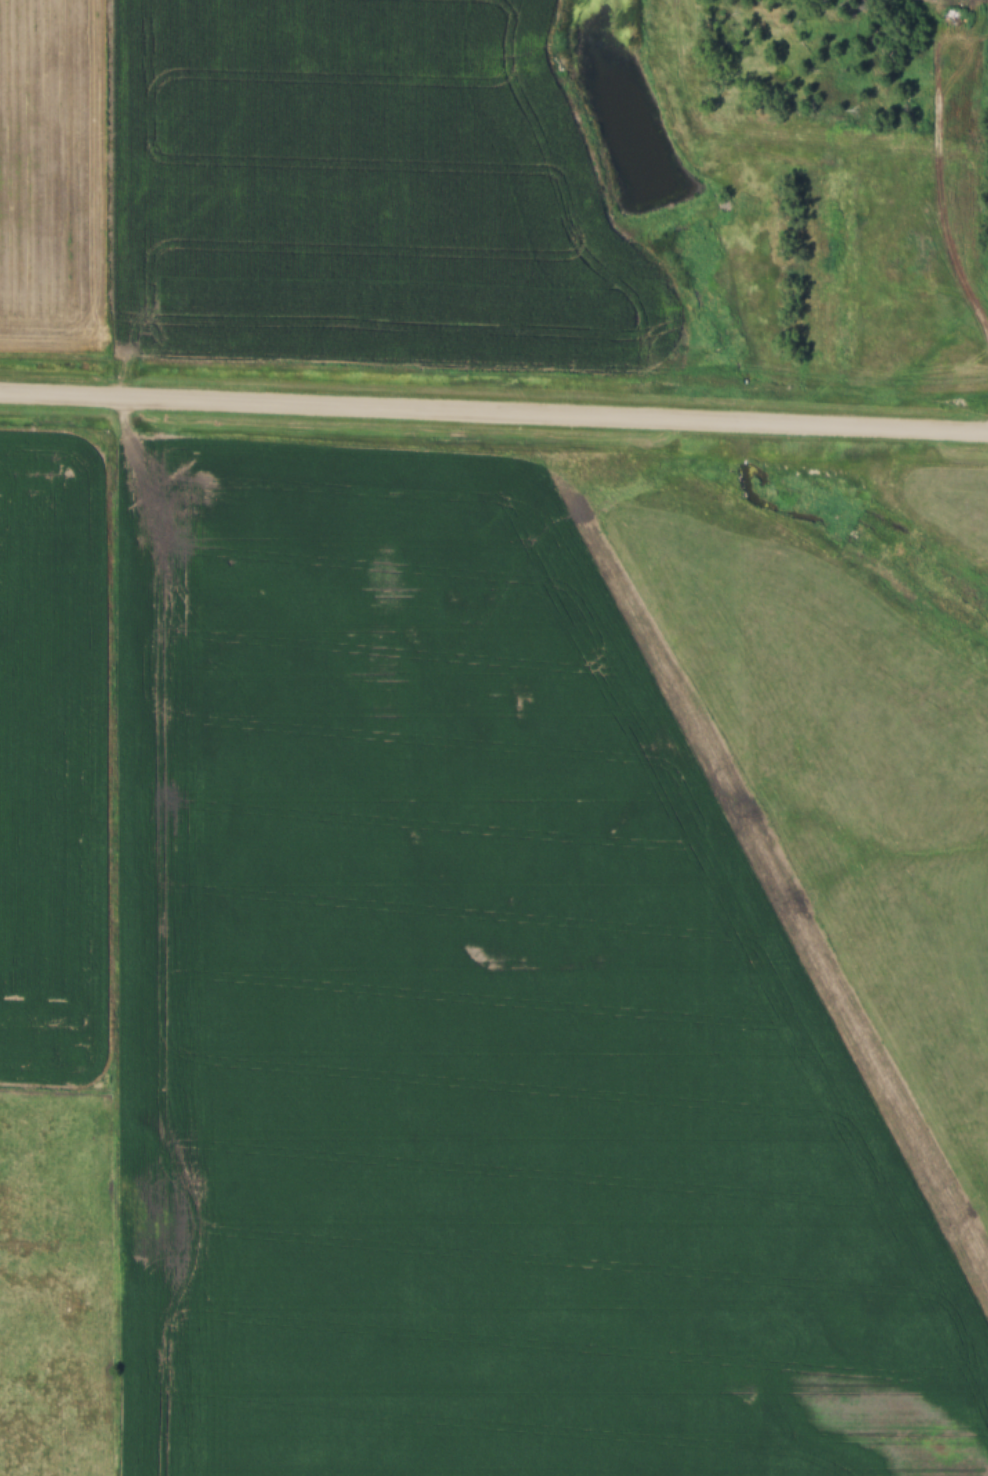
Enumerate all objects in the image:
road: (494, 411)

